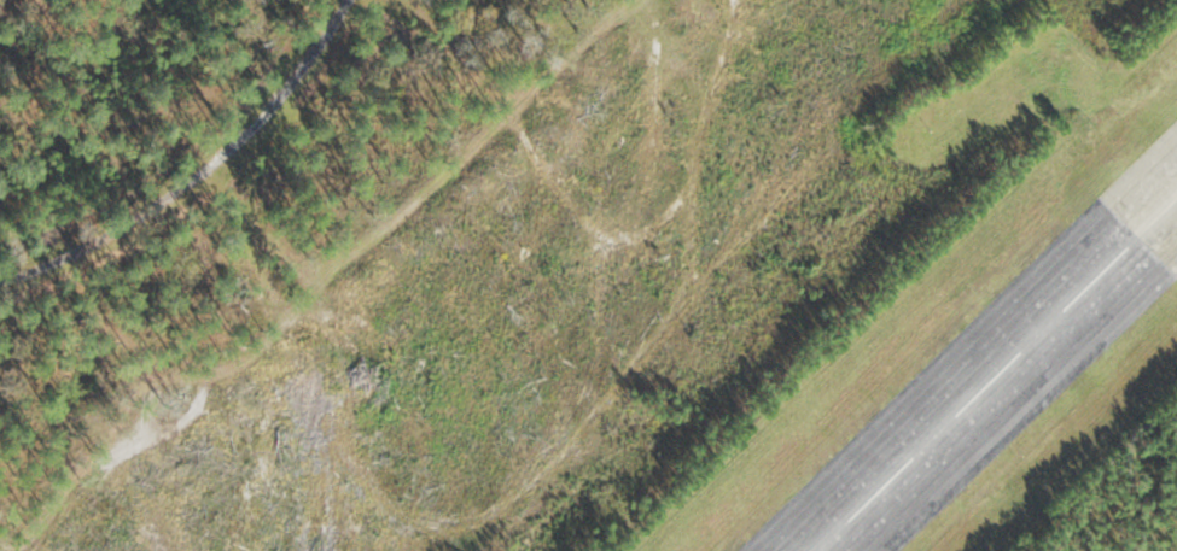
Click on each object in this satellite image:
airport taxiway: (1155, 228)
airport: (588, 275)
airport runway: (977, 395)
building: (902, 508)

